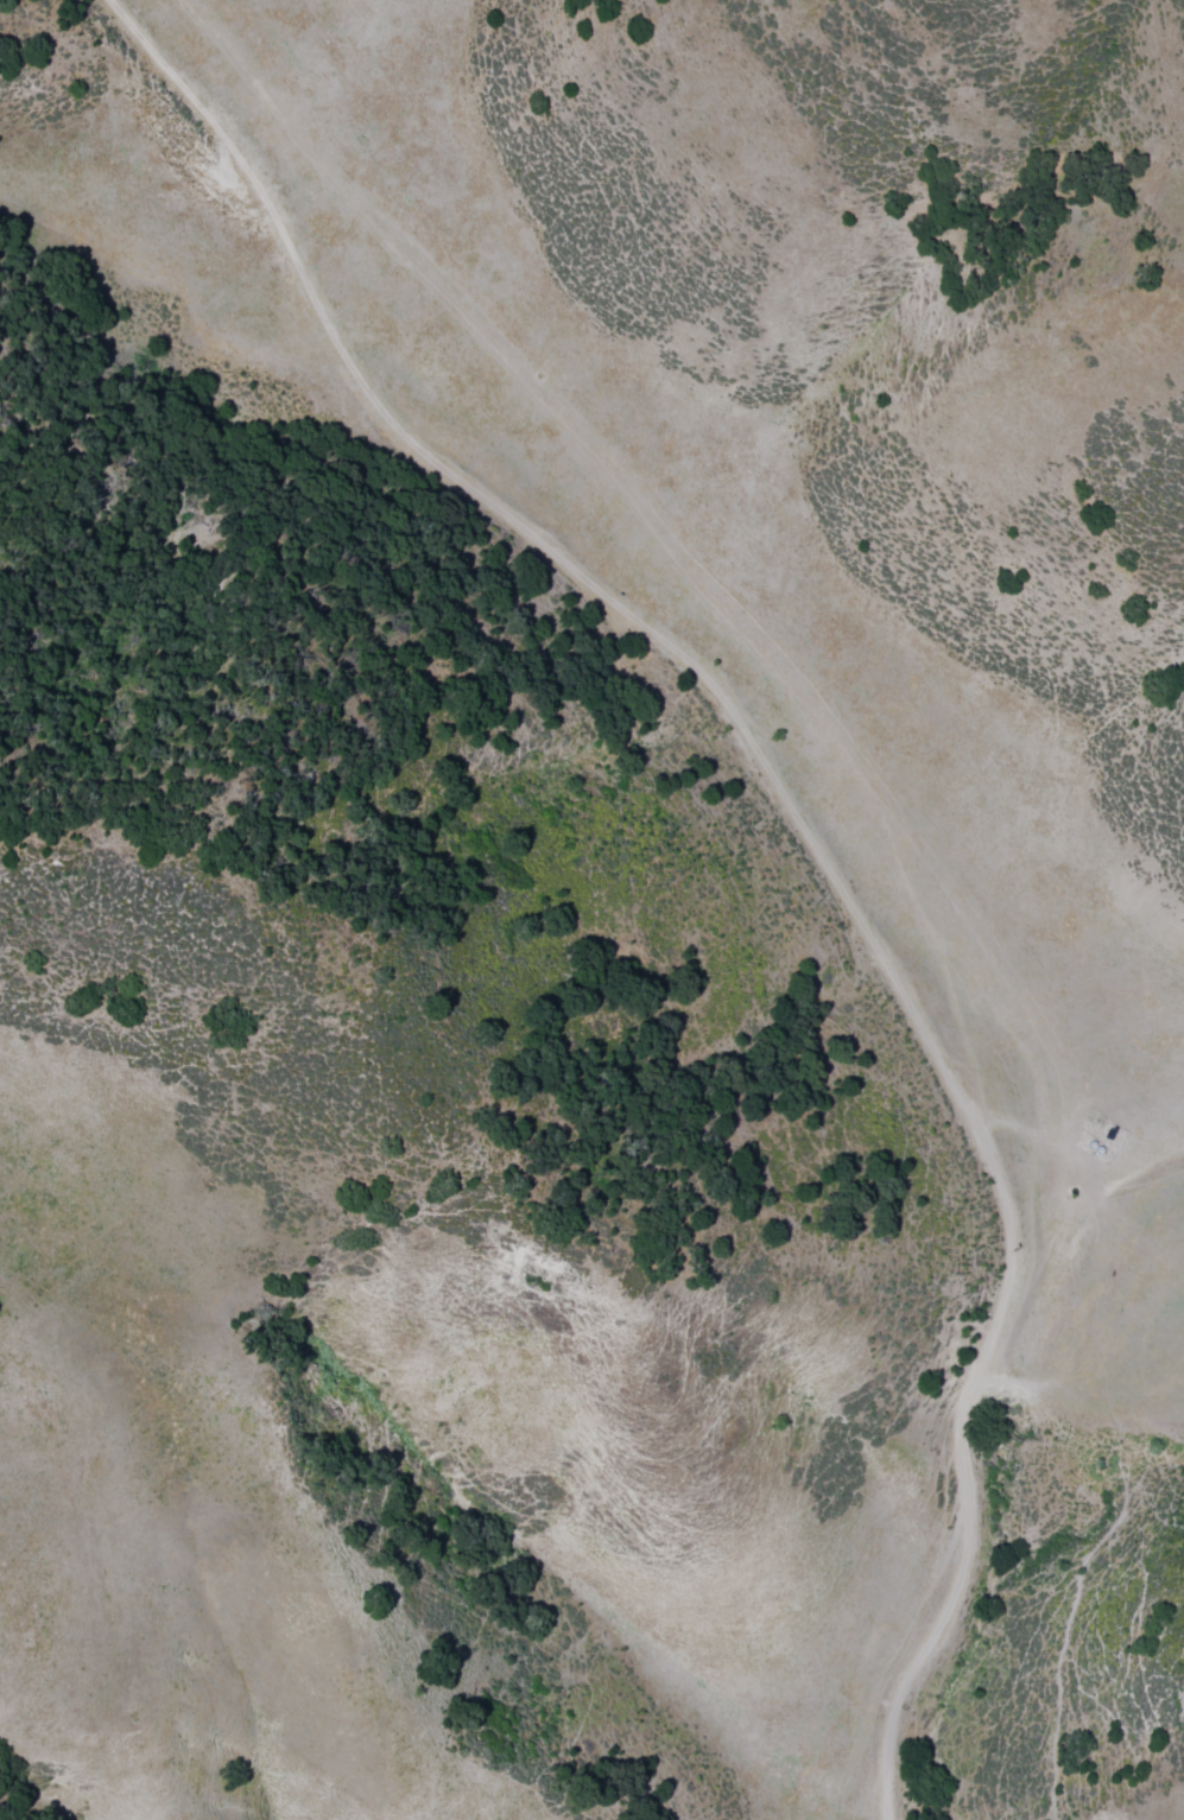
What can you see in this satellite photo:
road: (797, 816)
road: (267, 944)

